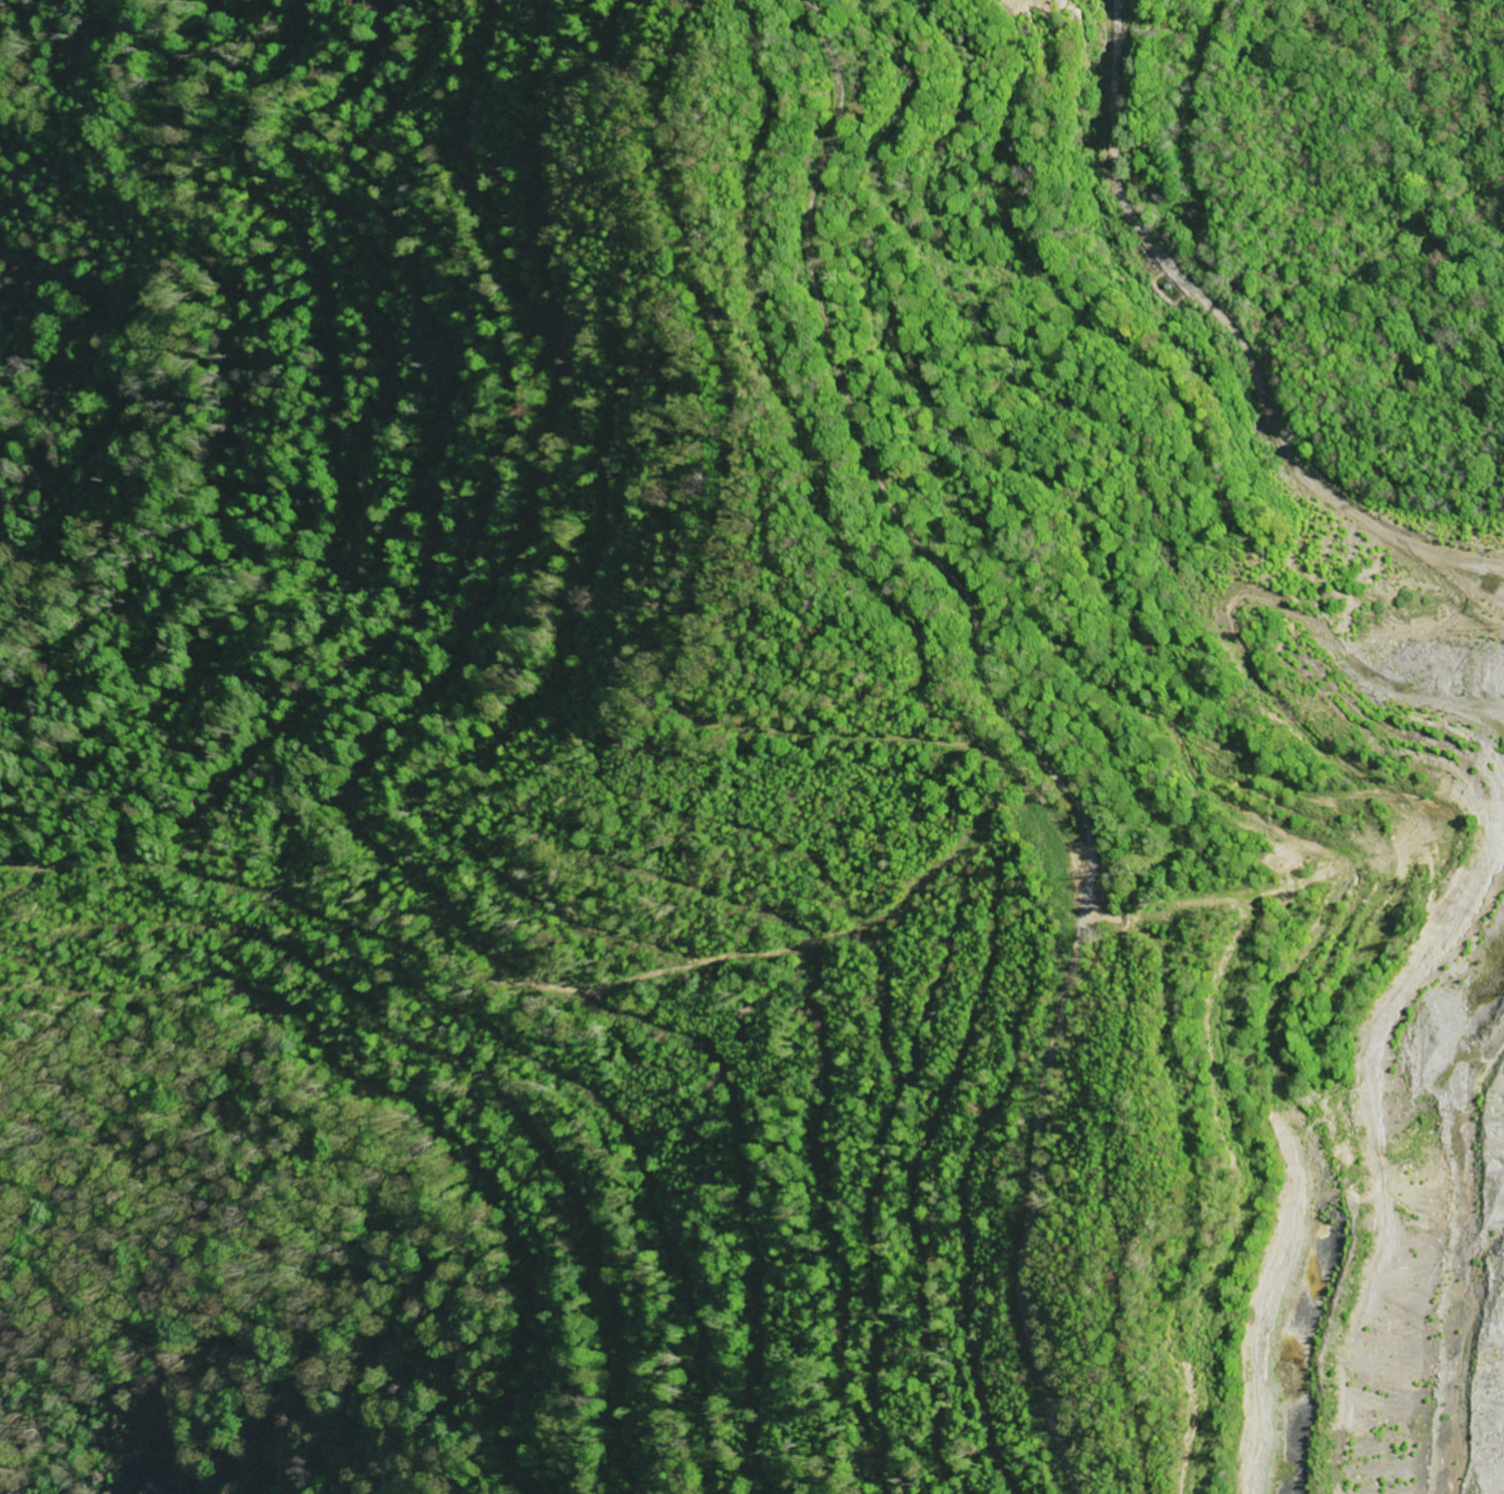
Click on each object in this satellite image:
road: (1236, 341)
road: (881, 472)
road: (695, 599)
road: (1029, 1198)
road: (1498, 1388)

